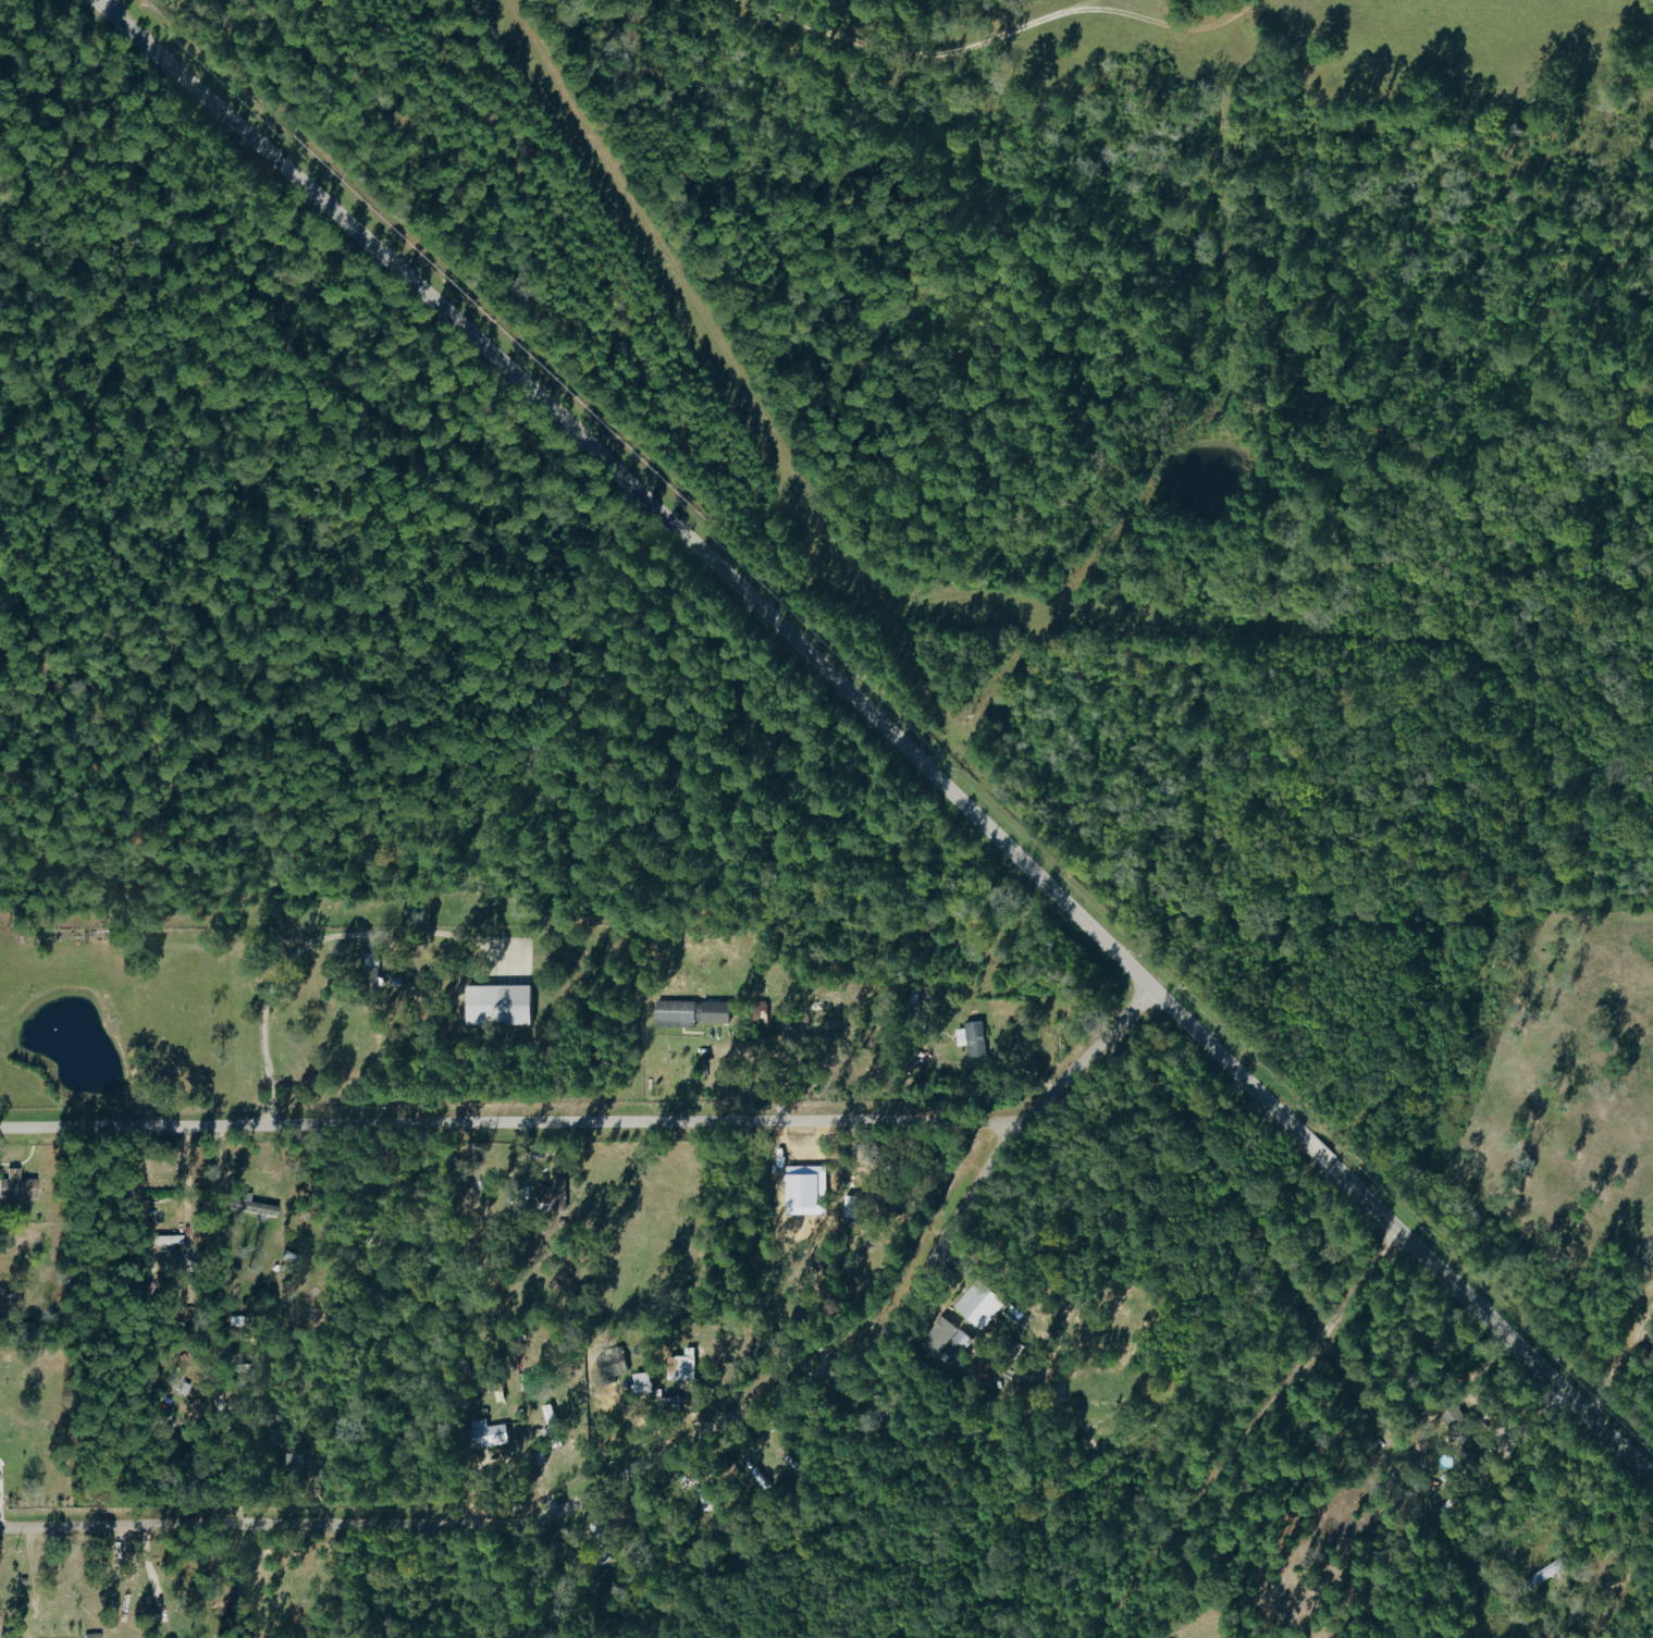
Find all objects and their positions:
road: (1003, 41)
road: (884, 732)
road: (295, 949)
building: (497, 1005)
building: (757, 1010)
building: (689, 1012)
building: (971, 1038)
road: (762, 1076)
road: (507, 1126)
building: (16, 1186)
road: (186, 1190)
building: (557, 1194)
building: (256, 1207)
building: (851, 1207)
building: (978, 1303)
building: (946, 1338)
road: (1618, 1348)
building: (612, 1360)
building: (681, 1364)
building: (641, 1381)
building: (546, 1411)
road: (1241, 1430)
building: (486, 1432)
road: (665, 1445)
building: (1544, 1573)
road: (149, 1575)

